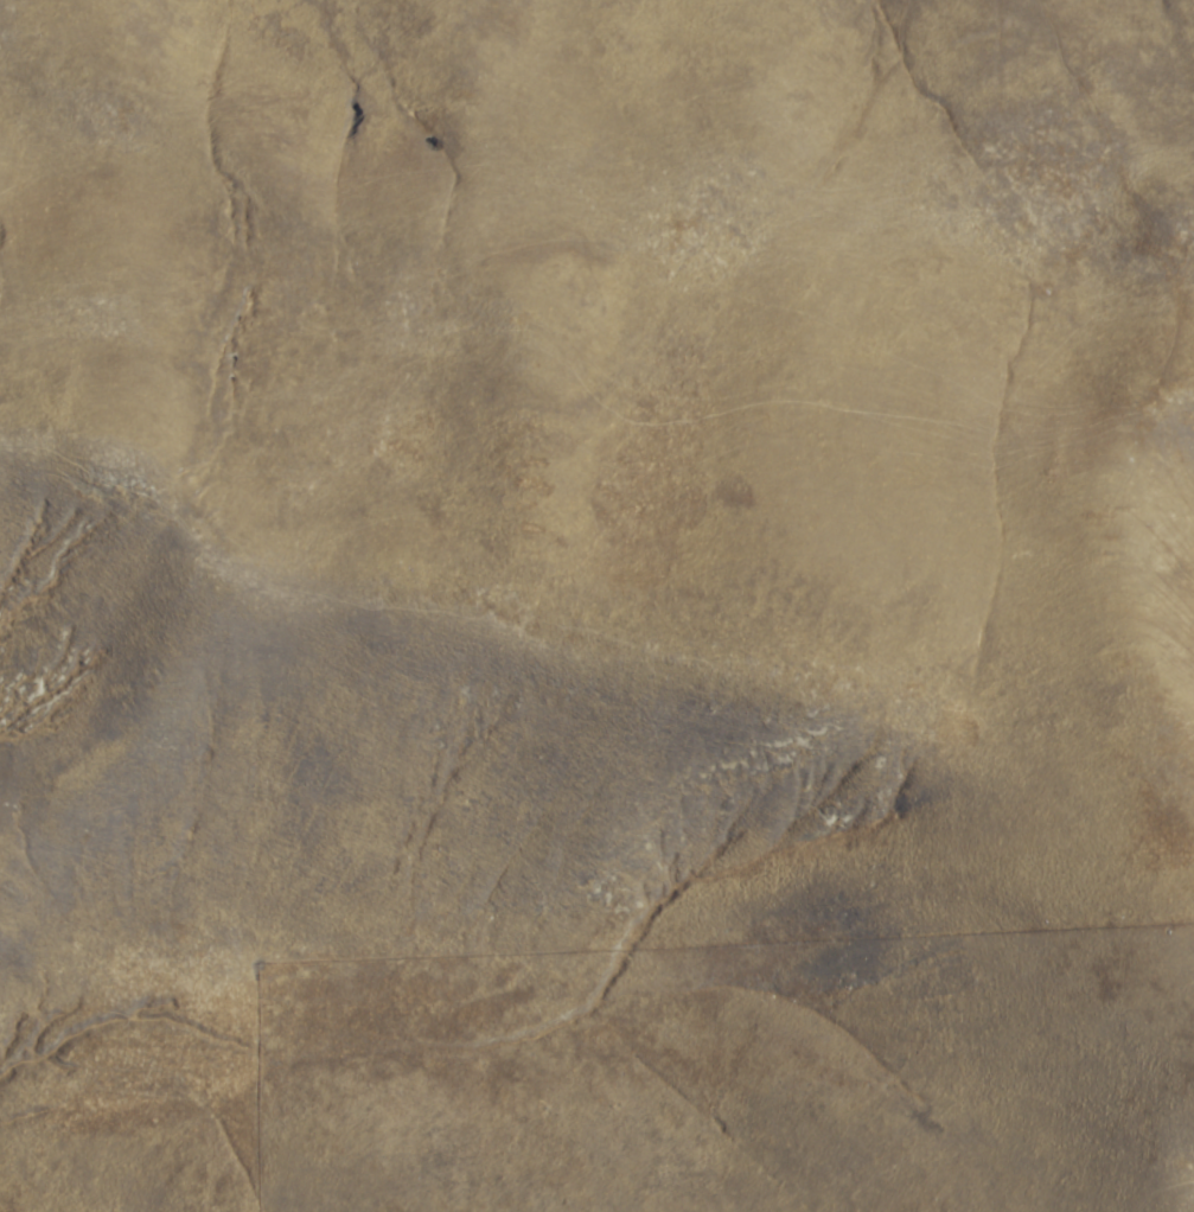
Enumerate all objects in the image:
road: (207, 7)

